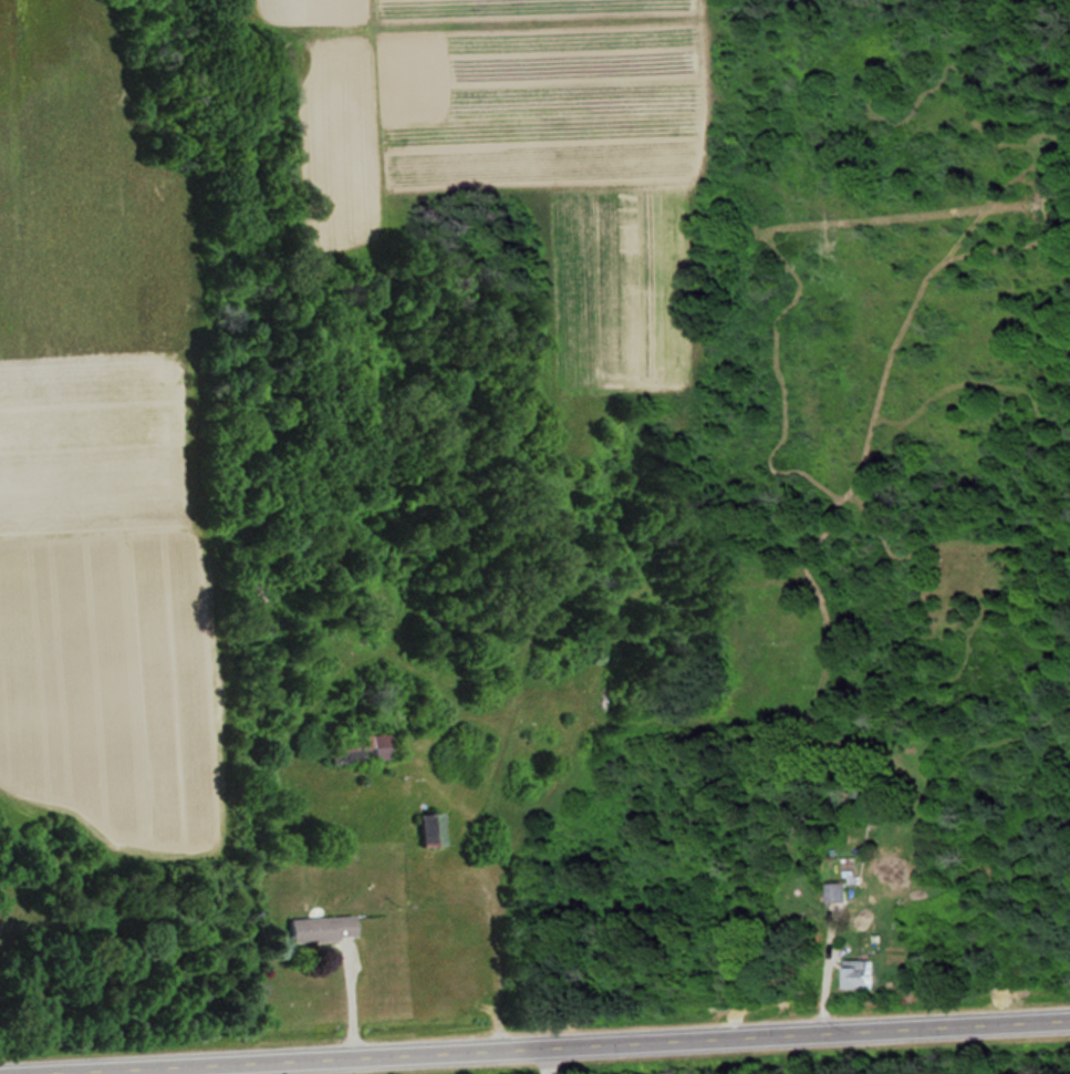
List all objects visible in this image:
building: (363, 746)
building: (434, 828)
building: (839, 890)
building: (324, 927)
building: (862, 973)
road: (534, 1044)
road: (549, 1058)
road: (239, 1067)
road: (110, 1071)

